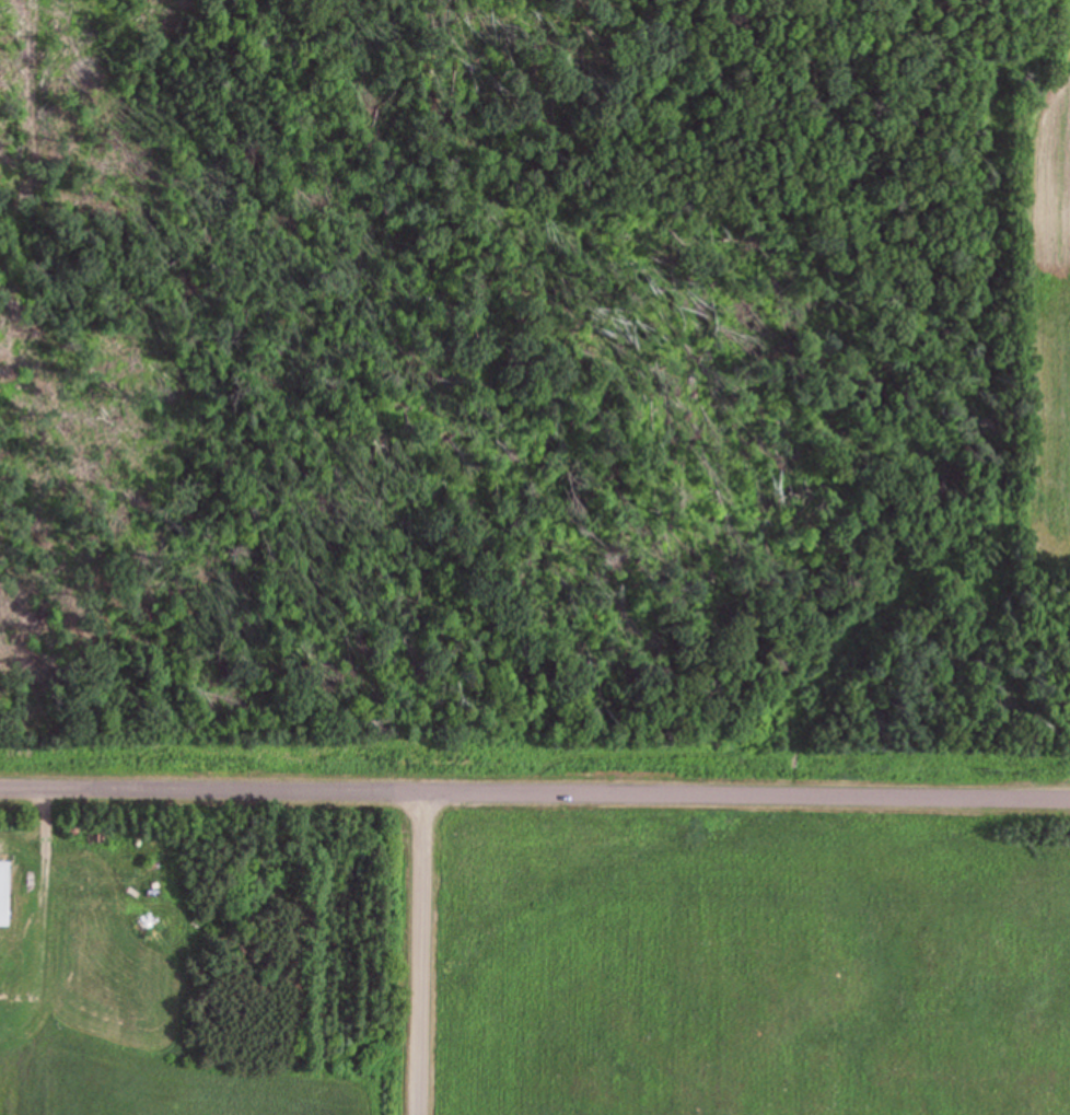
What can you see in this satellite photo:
road: (534, 812)
building: (8, 893)
road: (409, 963)

